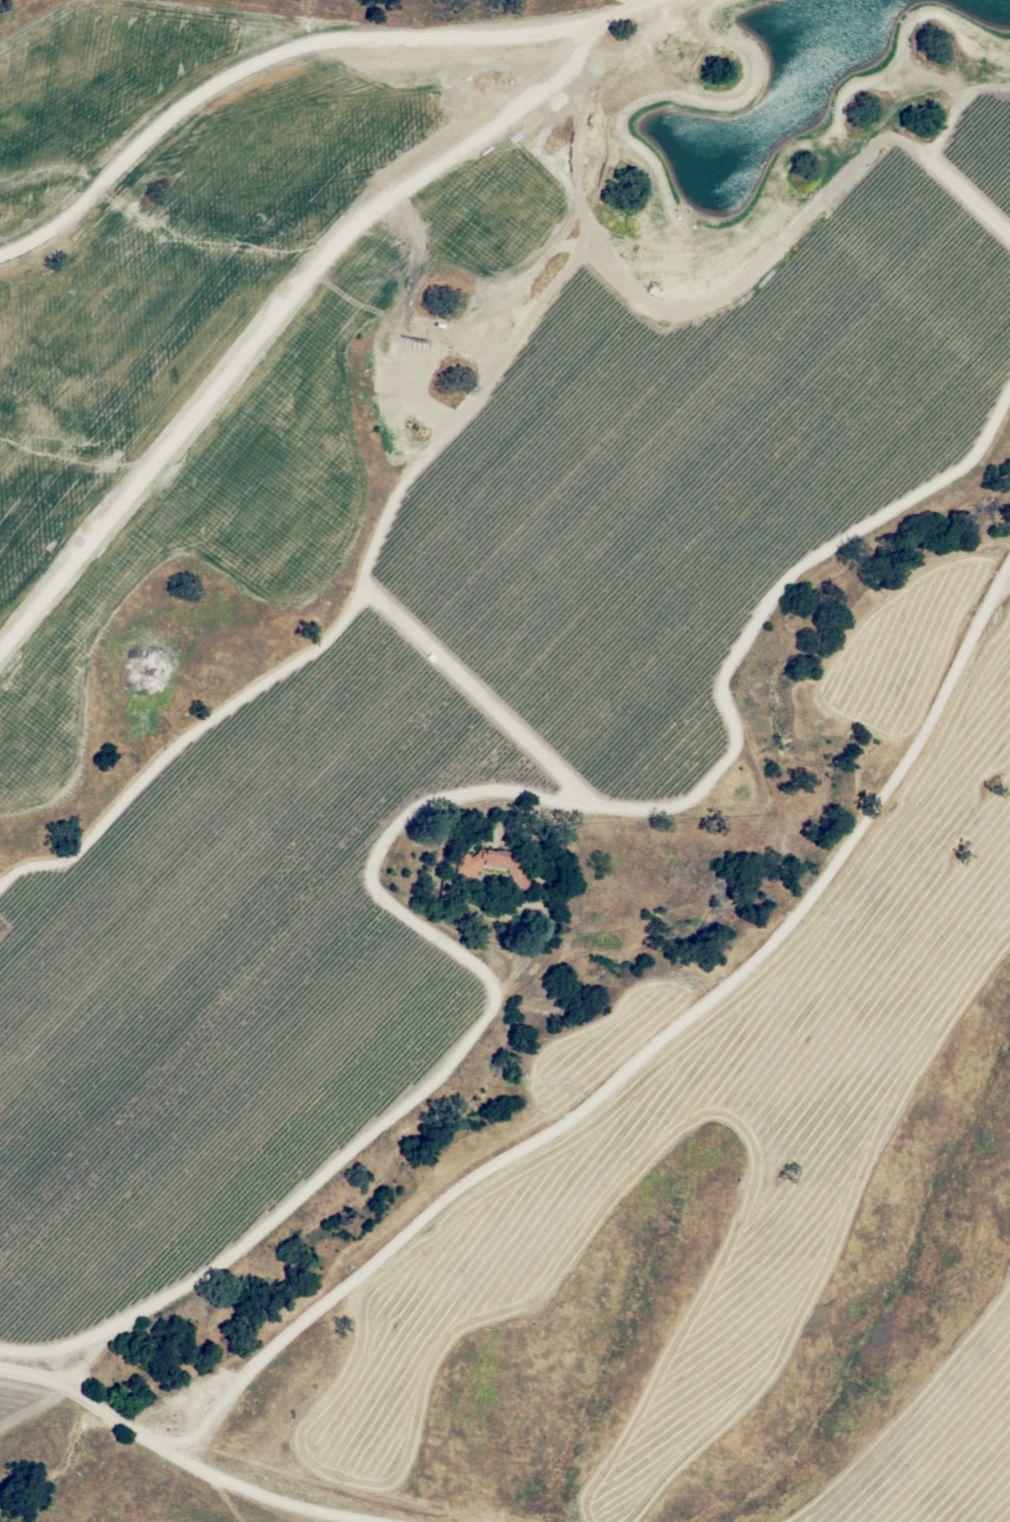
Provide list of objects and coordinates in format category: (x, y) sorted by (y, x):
road: (298, 286)
building: (494, 864)
road: (636, 1059)
road: (303, 1180)
road: (184, 1460)

